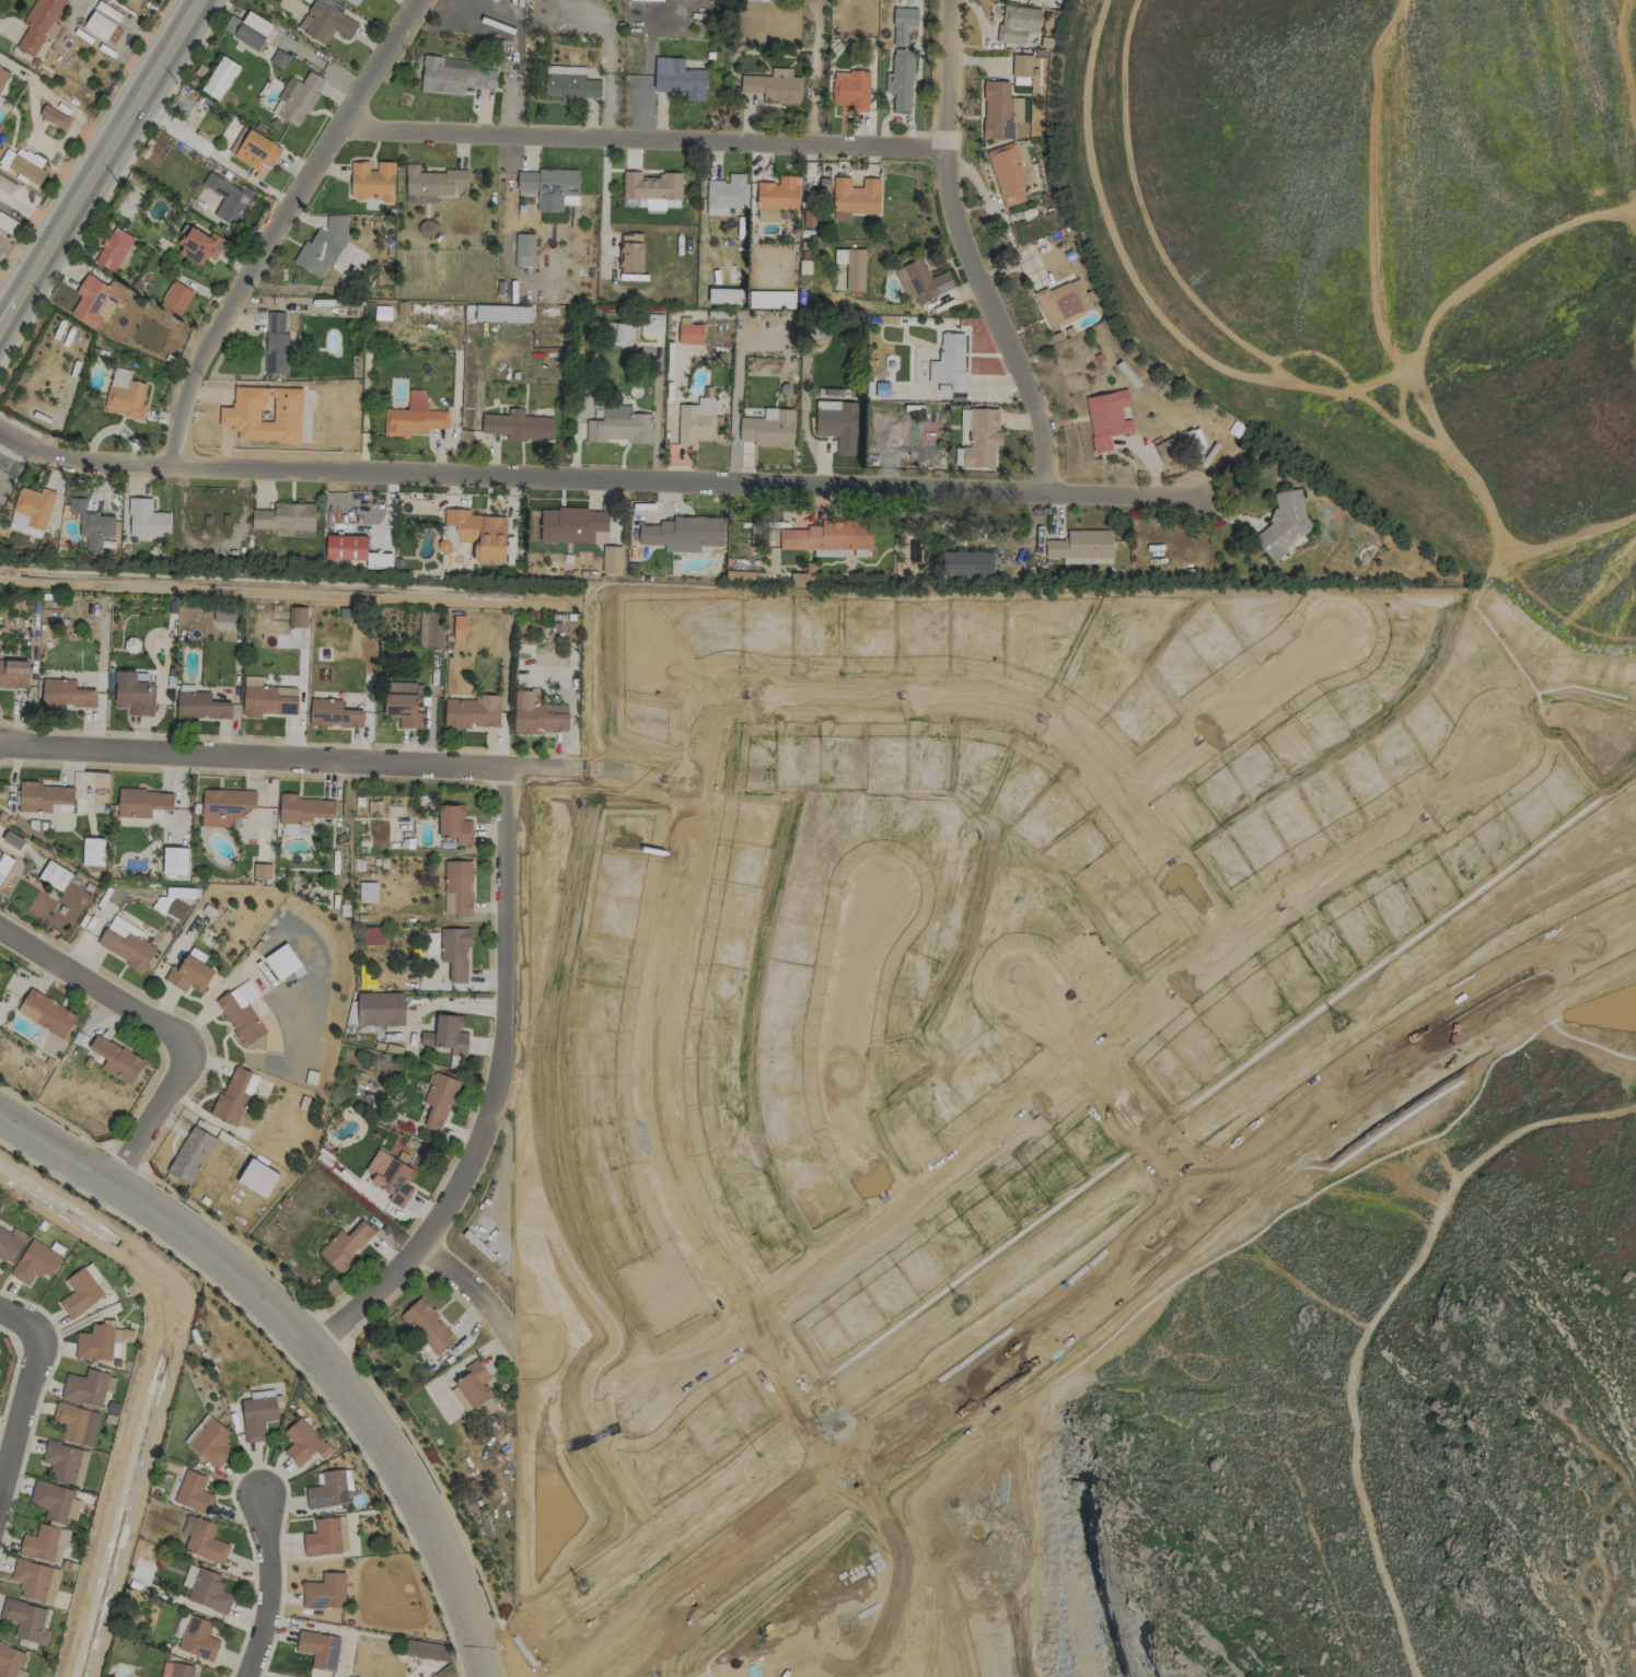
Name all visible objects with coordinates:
building: (647, 0)
building: (763, 0)
building: (353, 1)
road: (228, 8)
building: (325, 22)
building: (1017, 23)
building: (39, 24)
building: (231, 24)
road: (255, 24)
building: (902, 24)
building: (252, 31)
road: (295, 49)
road: (608, 56)
road: (513, 60)
building: (1021, 66)
building: (455, 75)
building: (220, 78)
road: (344, 78)
building: (678, 79)
building: (900, 79)
building: (569, 83)
building: (773, 88)
building: (850, 90)
building: (297, 98)
building: (997, 110)
building: (53, 116)
road: (639, 141)
building: (254, 149)
road: (100, 159)
building: (24, 165)
building: (1007, 174)
building: (372, 180)
building: (546, 182)
building: (432, 184)
building: (653, 189)
building: (8, 193)
building: (726, 194)
building: (778, 194)
building: (855, 197)
building: (229, 198)
road: (278, 224)
building: (198, 245)
building: (323, 246)
building: (113, 248)
road: (971, 248)
building: (524, 249)
building: (630, 256)
building: (921, 281)
building: (724, 295)
building: (175, 299)
building: (770, 300)
building: (93, 301)
building: (1063, 302)
building: (504, 313)
building: (619, 334)
building: (689, 334)
building: (276, 343)
building: (950, 363)
building: (125, 395)
building: (239, 416)
building: (413, 417)
building: (1106, 418)
building: (695, 421)
building: (837, 423)
building: (518, 426)
building: (619, 426)
building: (768, 429)
building: (978, 436)
building: (1195, 439)
building: (1168, 451)
road: (615, 470)
building: (283, 516)
building: (147, 519)
building: (91, 524)
building: (571, 524)
building: (1283, 524)
building: (478, 533)
building: (684, 533)
building: (828, 536)
building: (1081, 547)
building: (355, 551)
building: (611, 559)
building: (966, 563)
building: (223, 615)
building: (297, 617)
building: (557, 627)
building: (457, 628)
building: (430, 629)
building: (13, 673)
building: (66, 694)
building: (134, 694)
building: (267, 698)
road: (987, 701)
building: (403, 703)
road: (1233, 704)
building: (200, 706)
building: (472, 711)
building: (333, 713)
building: (536, 713)
road: (347, 759)
building: (44, 797)
building: (143, 803)
building: (224, 806)
building: (303, 810)
building: (454, 824)
building: (12, 840)
road: (1372, 845)
building: (92, 851)
building: (174, 861)
building: (1, 867)
building: (262, 871)
building: (457, 887)
building: (367, 892)
building: (178, 893)
road: (678, 902)
building: (176, 909)
building: (372, 935)
building: (127, 944)
building: (454, 952)
building: (281, 960)
building: (189, 975)
road: (1161, 1003)
building: (380, 1009)
building: (45, 1013)
building: (240, 1020)
road: (1052, 1020)
road: (163, 1024)
building: (446, 1035)
road: (838, 1048)
building: (116, 1059)
road: (497, 1088)
building: (234, 1095)
building: (438, 1099)
road: (984, 1130)
road: (1150, 1134)
road: (1133, 1145)
building: (190, 1155)
road: (1226, 1164)
building: (257, 1177)
building: (391, 1177)
road: (675, 1186)
building: (10, 1244)
building: (346, 1245)
road: (810, 1259)
building: (35, 1261)
road: (471, 1284)
building: (80, 1293)
road: (1109, 1294)
building: (428, 1327)
building: (101, 1342)
road: (311, 1344)
road: (35, 1348)
road: (685, 1356)
building: (474, 1384)
road: (797, 1384)
building: (85, 1387)
road: (782, 1398)
building: (256, 1418)
building: (77, 1423)
building: (209, 1441)
building: (303, 1442)
road: (11, 1451)
building: (65, 1461)
road: (851, 1471)
building: (329, 1489)
building: (193, 1492)
building: (55, 1501)
building: (326, 1537)
building: (205, 1541)
building: (44, 1544)
road: (704, 1570)
building: (35, 1581)
road: (268, 1588)
building: (324, 1592)
park: (869, 1616)
building: (23, 1619)
building: (197, 1639)
building: (318, 1649)
building: (420, 1649)
building: (11, 1662)
building: (181, 1670)

